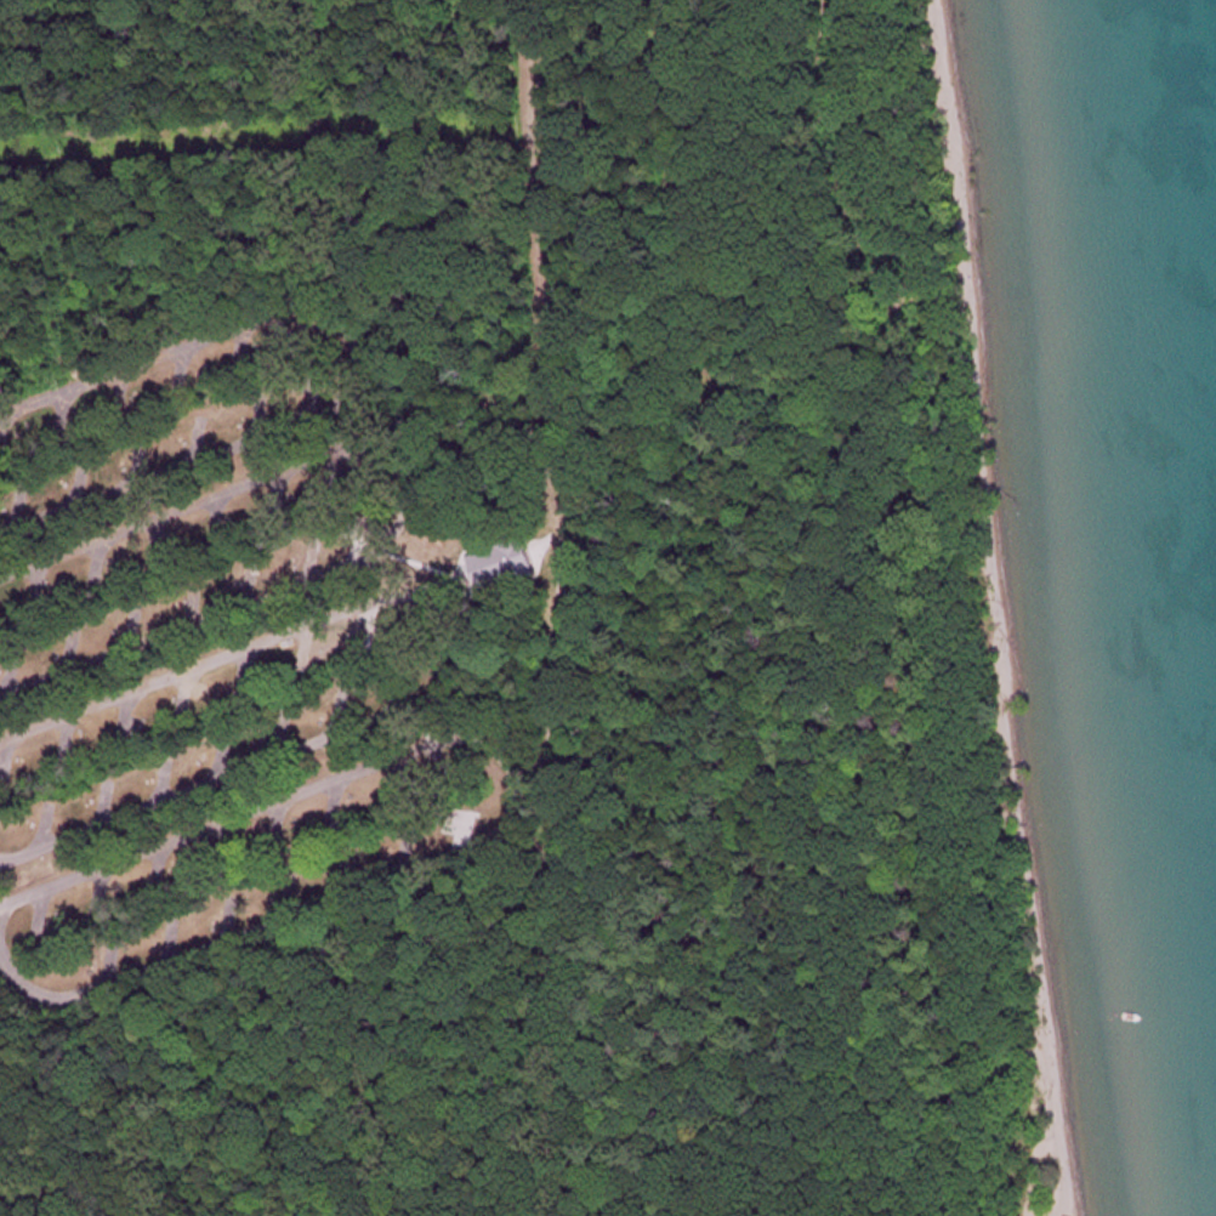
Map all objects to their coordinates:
road: (356, 364)
building: (356, 472)
road: (407, 504)
building: (527, 549)
park: (573, 623)
road: (464, 647)
road: (513, 807)
building: (410, 846)
road: (547, 1008)

